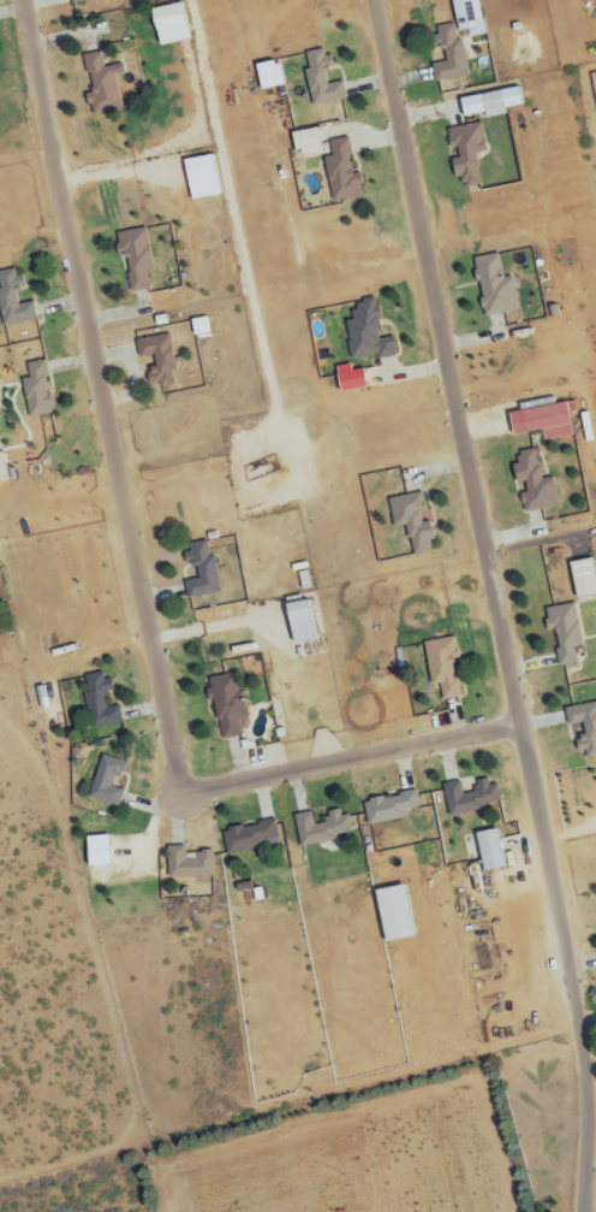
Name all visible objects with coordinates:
building: (78, 1)
building: (466, 17)
building: (168, 24)
building: (448, 54)
building: (268, 76)
building: (321, 79)
building: (101, 84)
building: (489, 102)
building: (304, 142)
building: (466, 154)
building: (341, 172)
building: (199, 177)
building: (135, 258)
building: (494, 286)
building: (12, 301)
building: (199, 326)
building: (366, 333)
building: (157, 359)
building: (348, 379)
building: (35, 390)
road: (99, 397)
building: (542, 421)
building: (1, 469)
building: (532, 484)
building: (411, 522)
building: (199, 572)
building: (582, 579)
road: (499, 603)
building: (299, 622)
building: (564, 632)
building: (441, 667)
building: (99, 702)
building: (226, 706)
building: (583, 728)
road: (345, 758)
building: (107, 782)
building: (469, 798)
building: (389, 808)
building: (321, 828)
building: (249, 838)
building: (488, 851)
building: (95, 852)
building: (187, 863)

